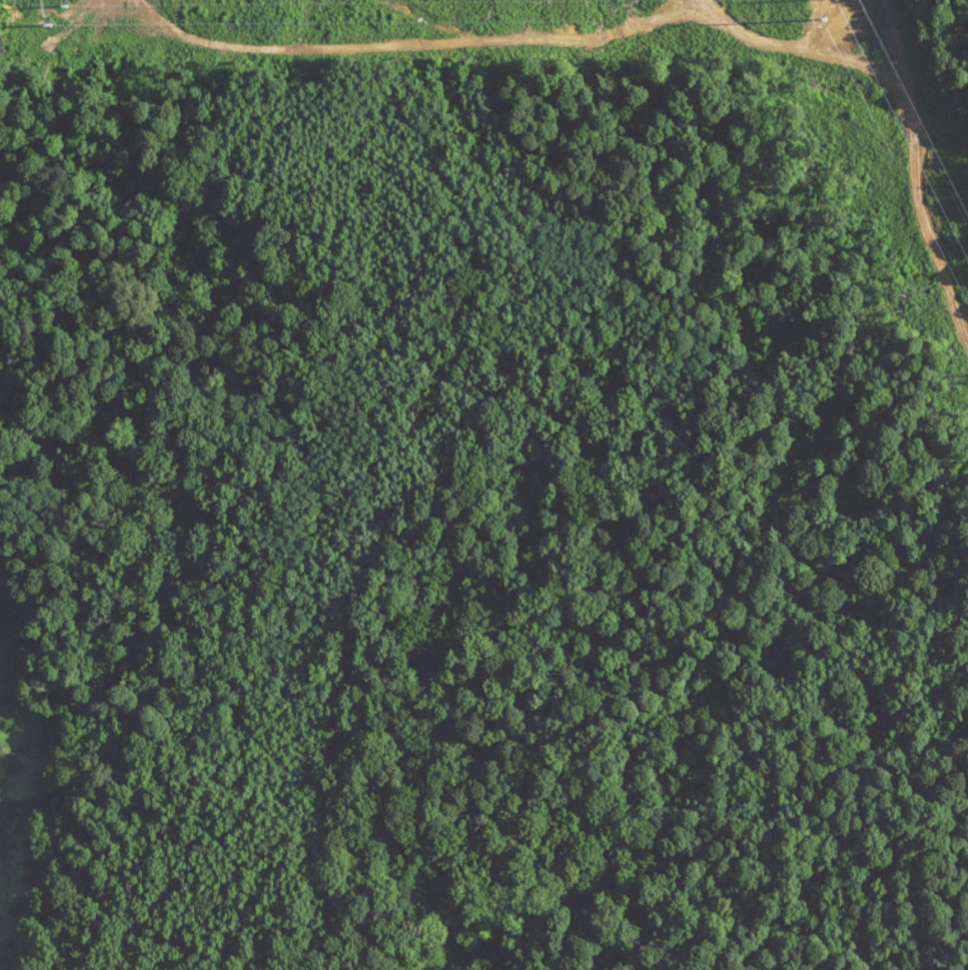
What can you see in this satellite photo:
power tower: (77, 9)

